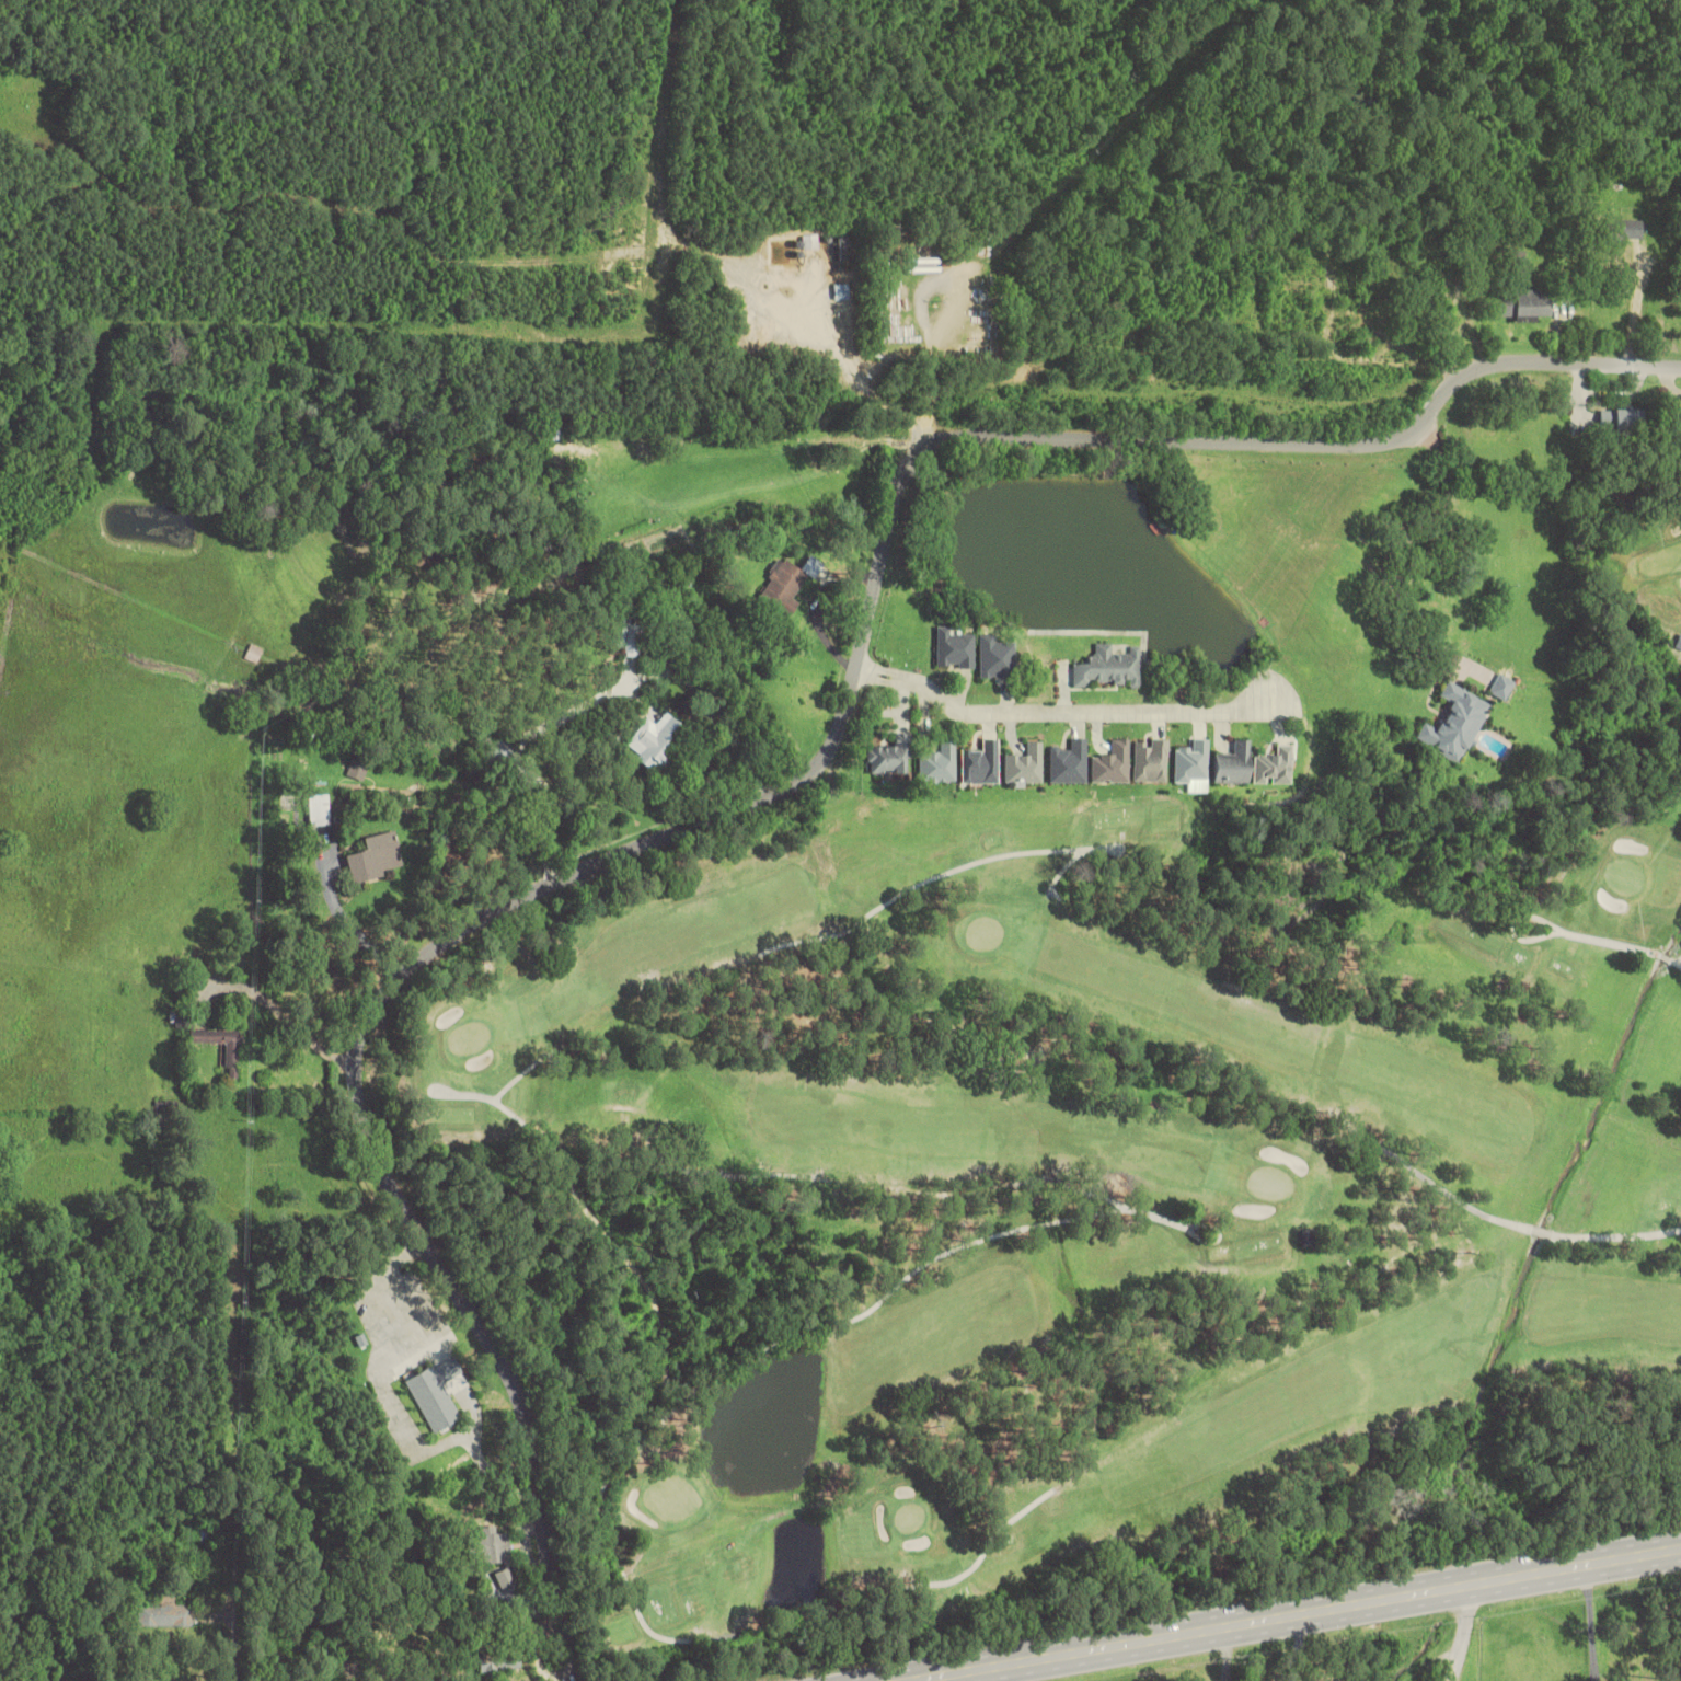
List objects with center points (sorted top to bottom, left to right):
building: (1369, 105)
road: (436, 123)
road: (424, 193)
building: (1626, 230)
road: (323, 244)
building: (1517, 260)
building: (1523, 304)
road: (924, 381)
building: (1620, 419)
building: (786, 583)
building: (624, 632)
building: (955, 648)
building: (995, 657)
building: (1108, 668)
building: (1501, 686)
road: (1057, 712)
building: (1454, 723)
building: (655, 740)
building: (889, 756)
building: (1149, 760)
building: (1068, 762)
building: (1110, 762)
building: (1189, 762)
building: (937, 763)
building: (980, 763)
building: (1231, 763)
building: (1274, 765)
building: (1023, 767)
road: (775, 792)
building: (318, 810)
building: (372, 857)
building: (1283, 876)
building: (231, 1060)
park: (1087, 1185)
building: (435, 1393)
building: (1298, 1488)
building: (490, 1550)
building: (407, 1559)
road: (1290, 1614)
building: (162, 1615)
building: (498, 1660)
building: (412, 1662)

